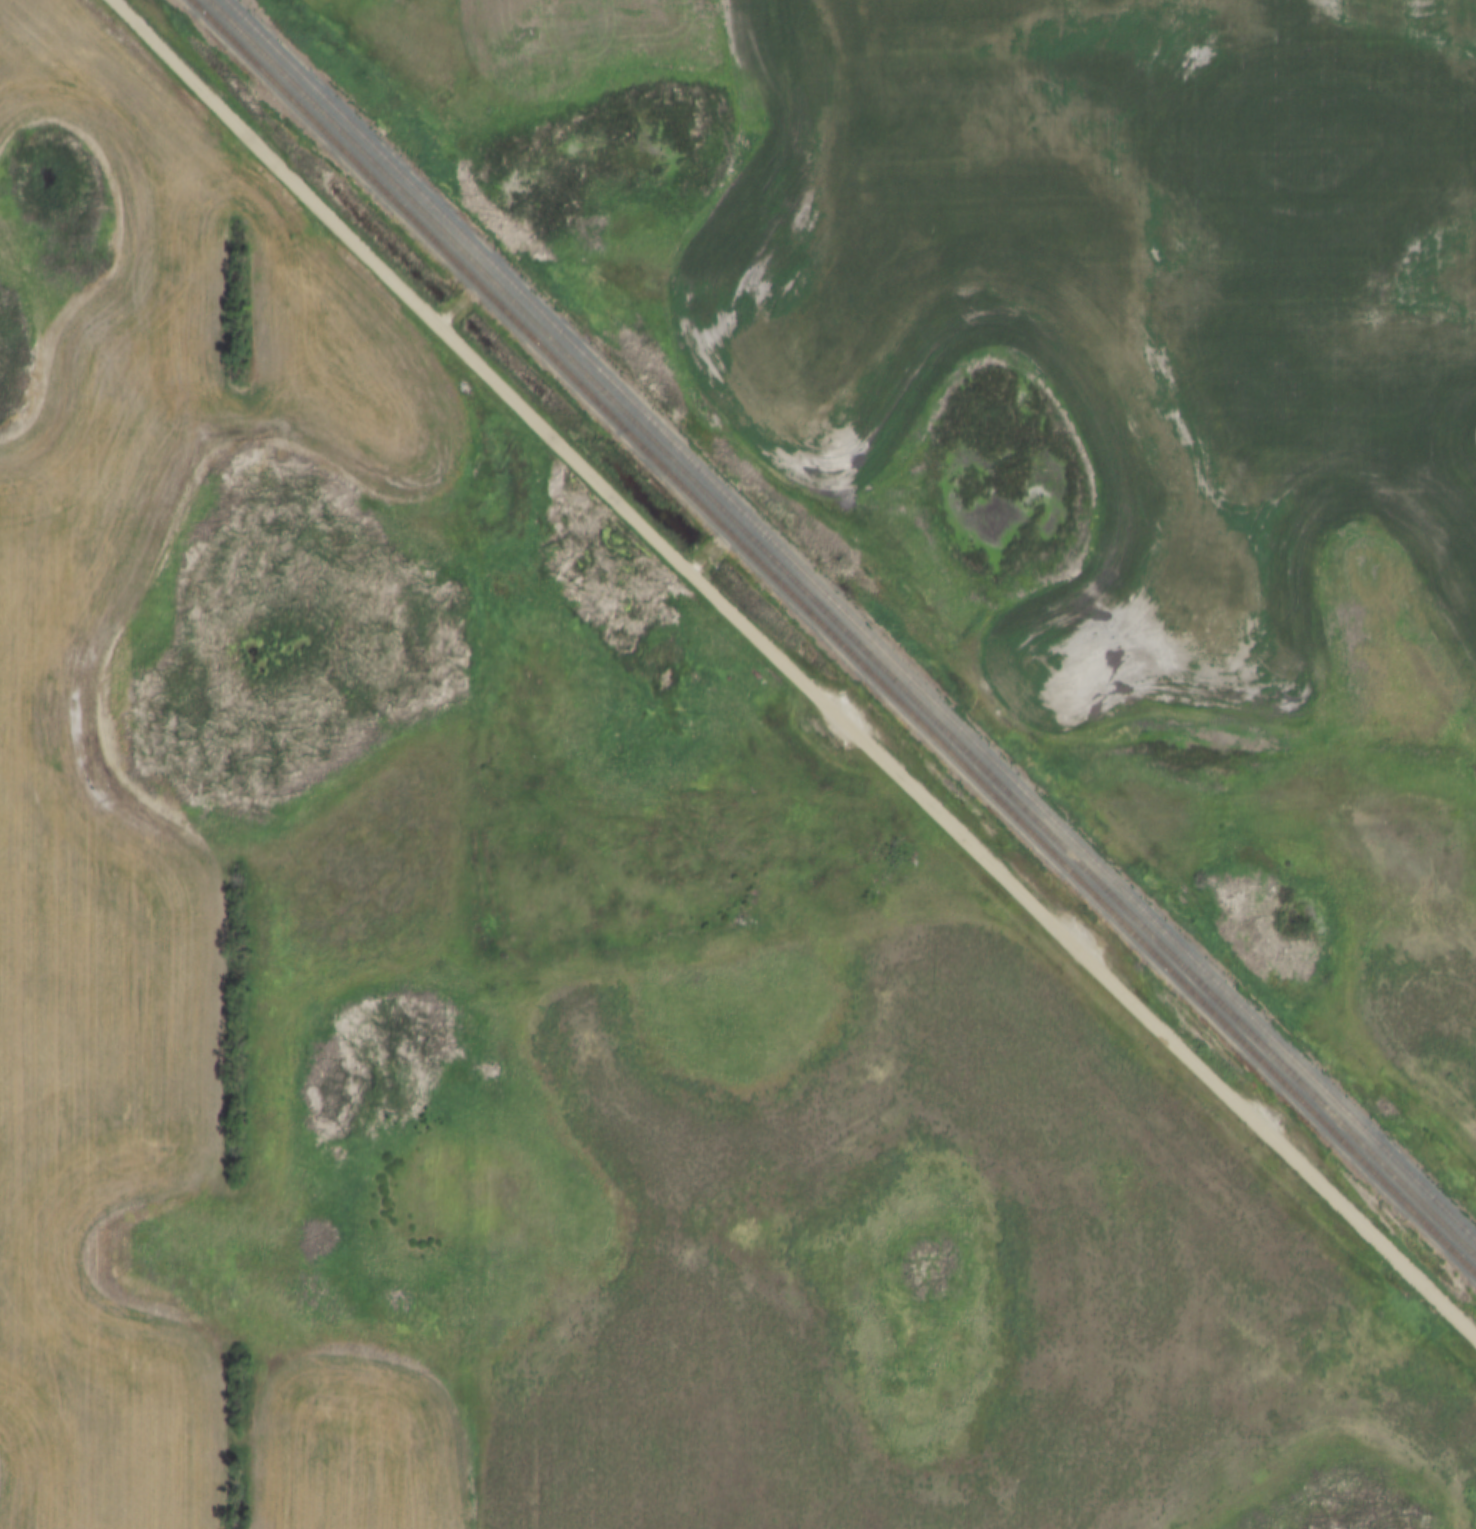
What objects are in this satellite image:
railway: (851, 619)
railway: (842, 628)
railway: (834, 636)
road: (789, 673)

